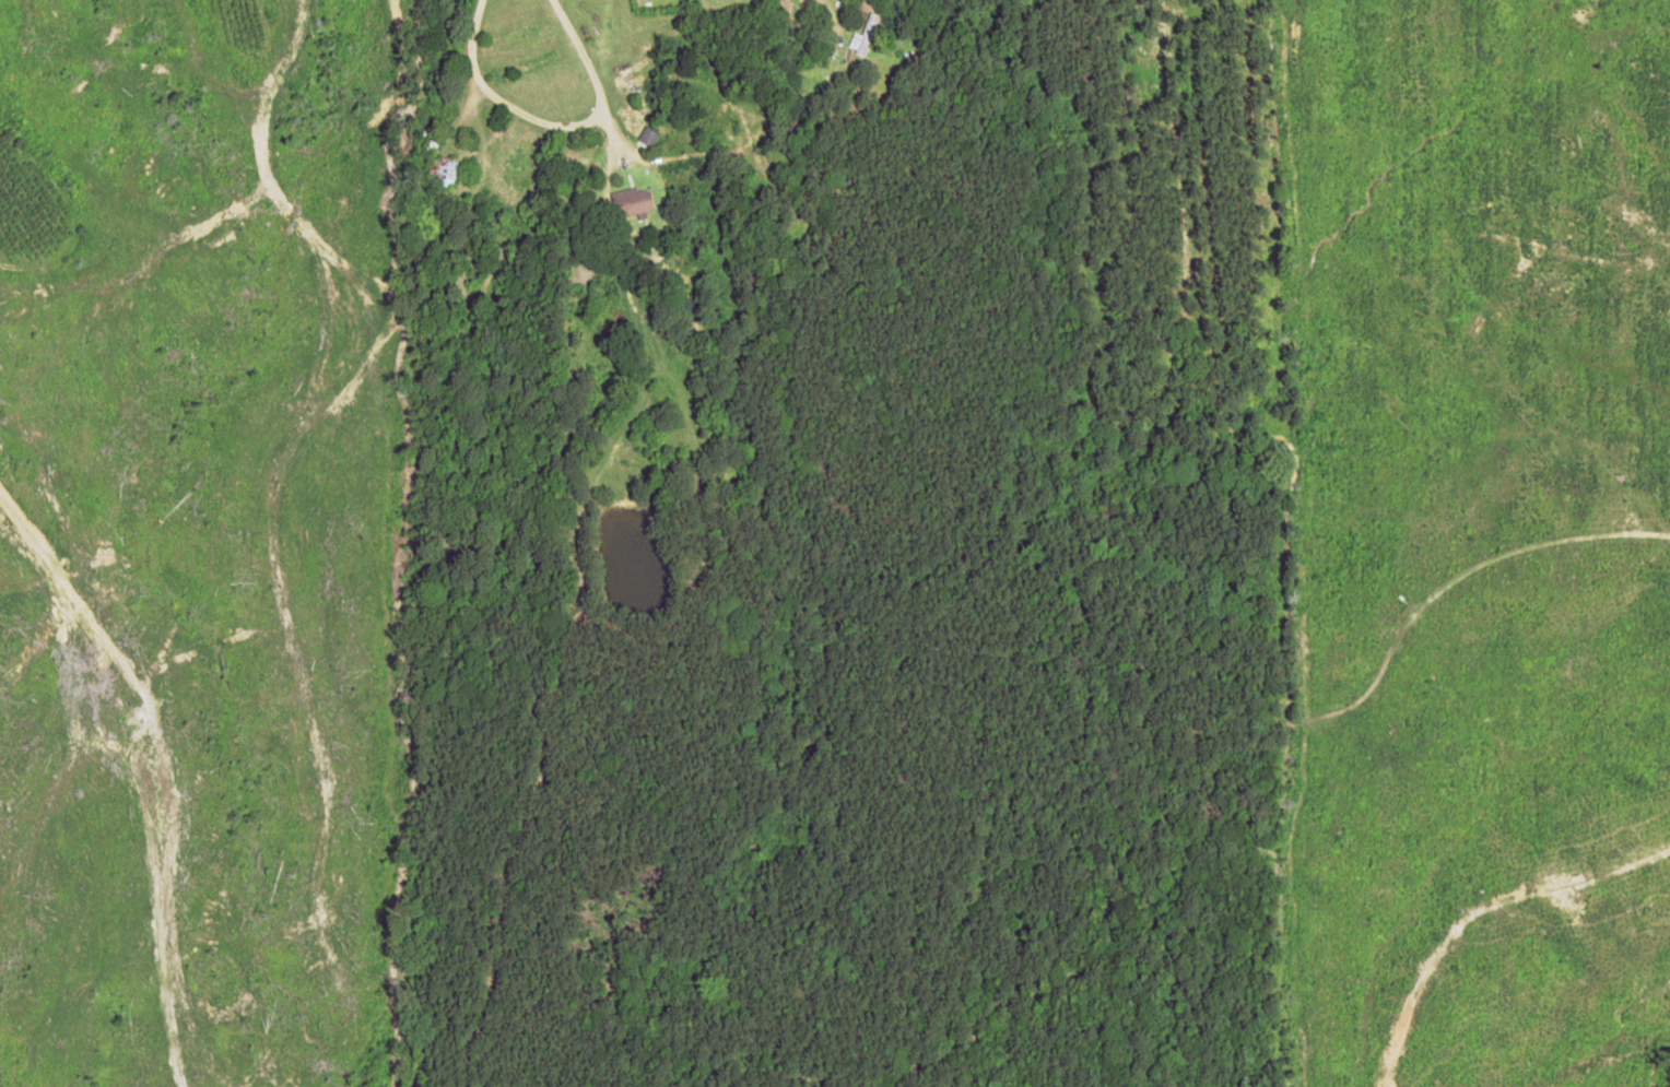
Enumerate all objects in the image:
building: (865, 34)
road: (574, 50)
road: (451, 51)
building: (446, 173)
building: (631, 201)

